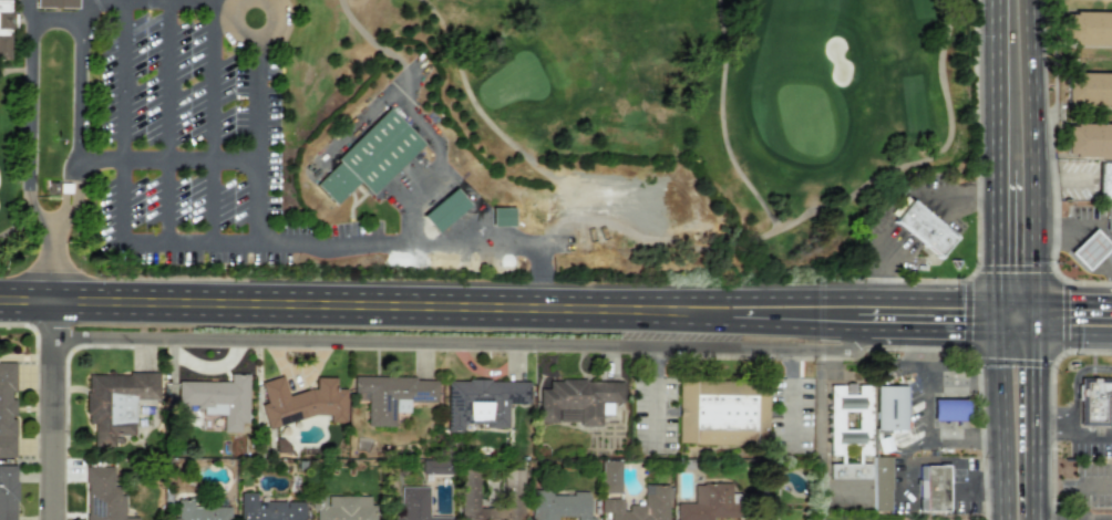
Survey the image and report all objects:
road: (125, 0)
building: (60, 3)
road: (87, 8)
road: (34, 22)
building: (1088, 29)
building: (8, 30)
road: (368, 35)
road: (11, 70)
road: (214, 79)
road: (464, 85)
road: (991, 85)
building: (1088, 90)
parking lot: (124, 101)
road: (720, 122)
park: (473, 133)
building: (1088, 141)
building: (369, 157)
road: (1037, 166)
road: (890, 168)
building: (1105, 180)
road: (120, 185)
road: (74, 197)
road: (898, 204)
building: (443, 209)
road: (37, 215)
building: (501, 216)
building: (1109, 217)
road: (1061, 227)
road: (14, 228)
building: (923, 229)
road: (991, 235)
road: (299, 242)
building: (1089, 249)
gas station: (1089, 249)
road: (1089, 249)
road: (50, 262)
road: (1104, 264)
road: (833, 297)
road: (1016, 299)
road: (1074, 301)
road: (339, 304)
road: (992, 314)
road: (702, 320)
road: (795, 325)
road: (927, 329)
road: (1016, 332)
road: (1075, 333)
road: (459, 343)
road: (935, 377)
road: (1074, 383)
building: (391, 395)
road: (653, 395)
building: (217, 398)
building: (1093, 399)
building: (577, 401)
road: (791, 401)
building: (301, 402)
building: (481, 402)
building: (114, 403)
building: (889, 407)
building: (7, 408)
road: (926, 408)
road: (49, 410)
building: (721, 413)
road: (883, 413)
road: (997, 425)
road: (1039, 426)
road: (1074, 433)
road: (961, 440)
building: (608, 476)
road: (1078, 482)
building: (933, 487)
building: (511, 488)
building: (7, 492)
building: (102, 495)
building: (707, 502)
building: (413, 505)
building: (556, 505)
building: (637, 506)
building: (342, 508)
building: (268, 509)
building: (197, 511)

